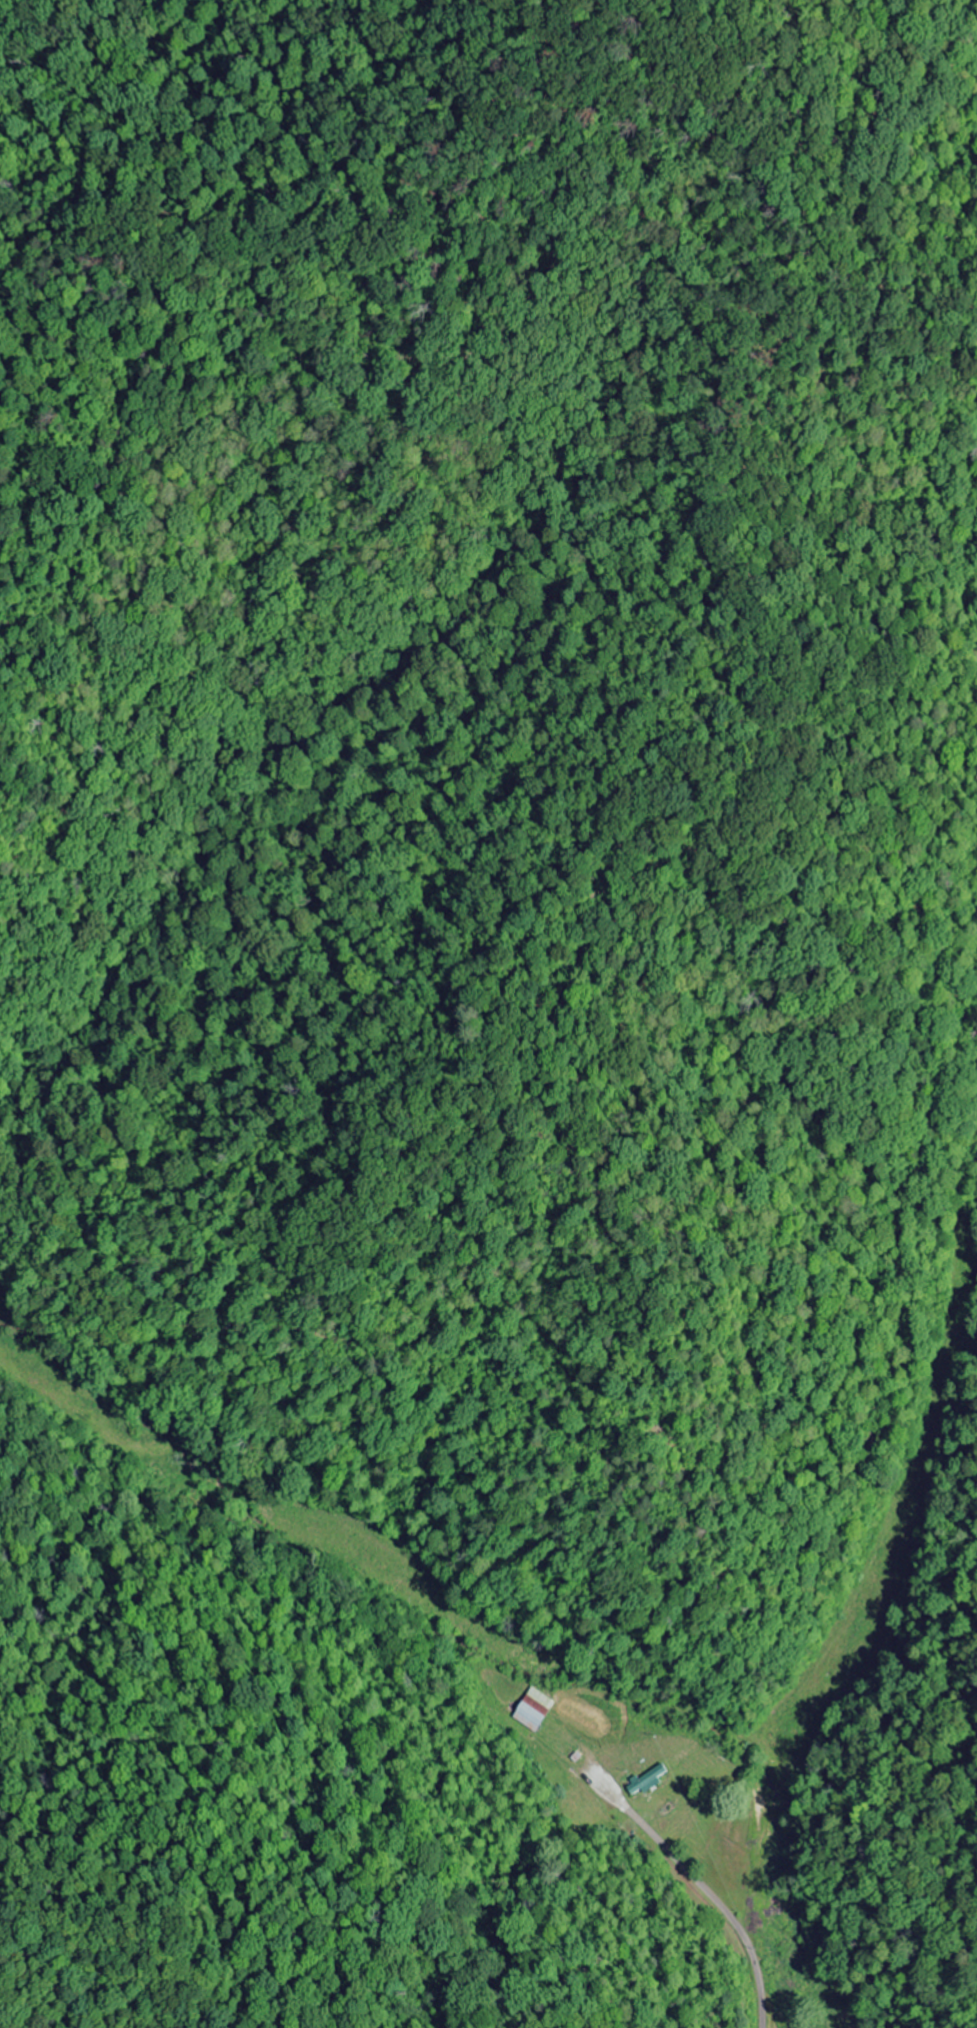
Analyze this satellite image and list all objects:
building: (533, 1710)
building: (648, 1781)
road: (668, 1900)
road: (746, 1902)

